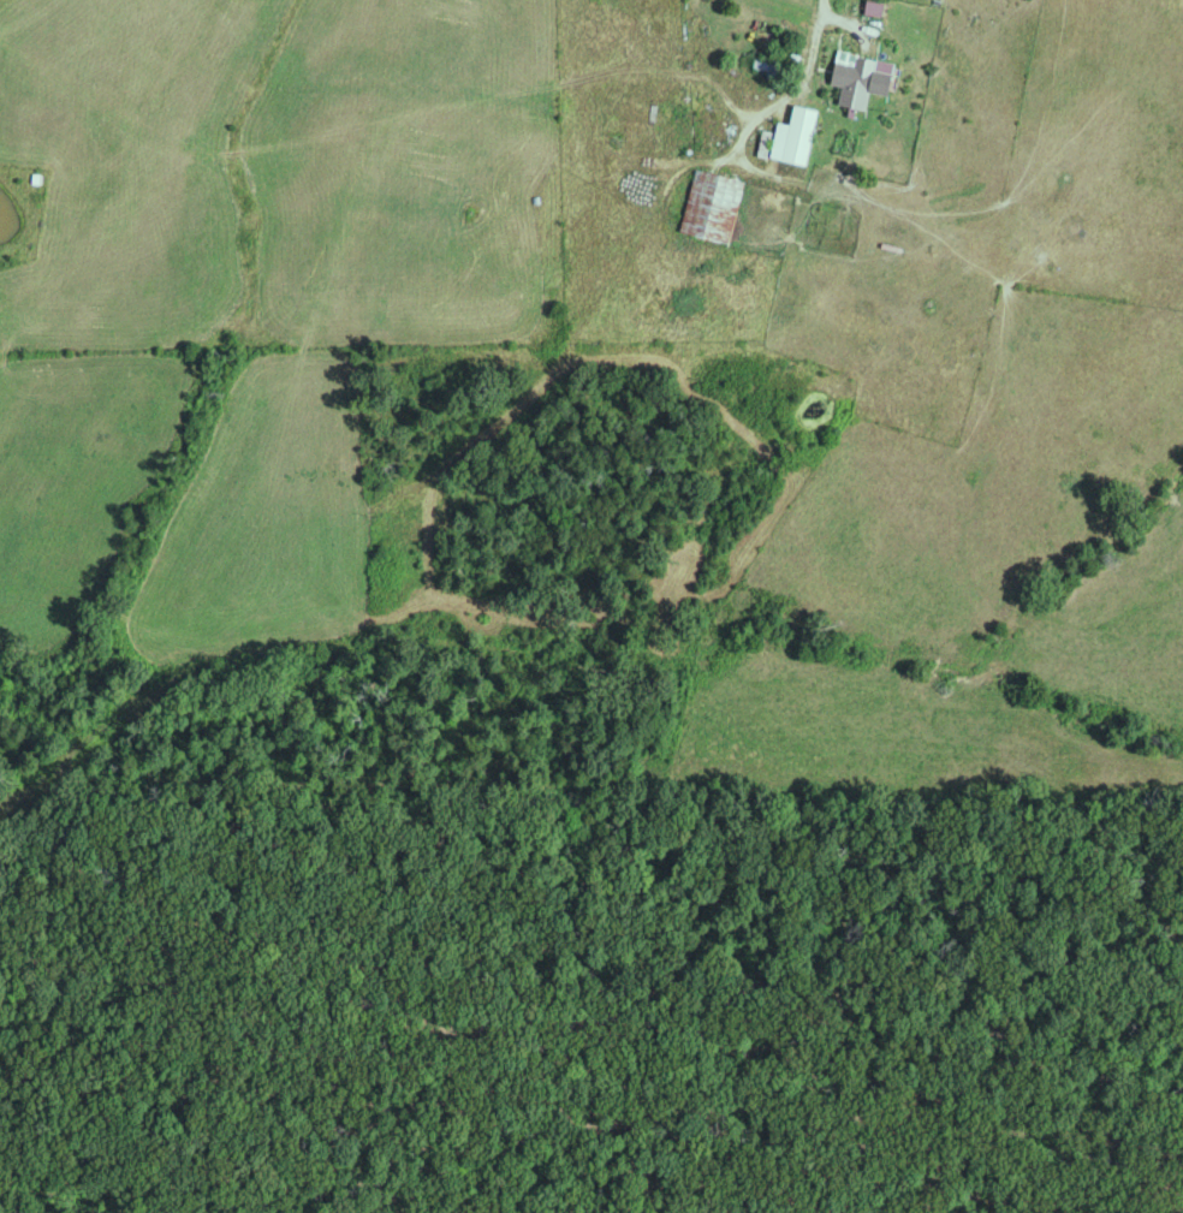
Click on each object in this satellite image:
building: (879, 6)
road: (812, 42)
building: (866, 77)
building: (799, 135)
building: (718, 204)

